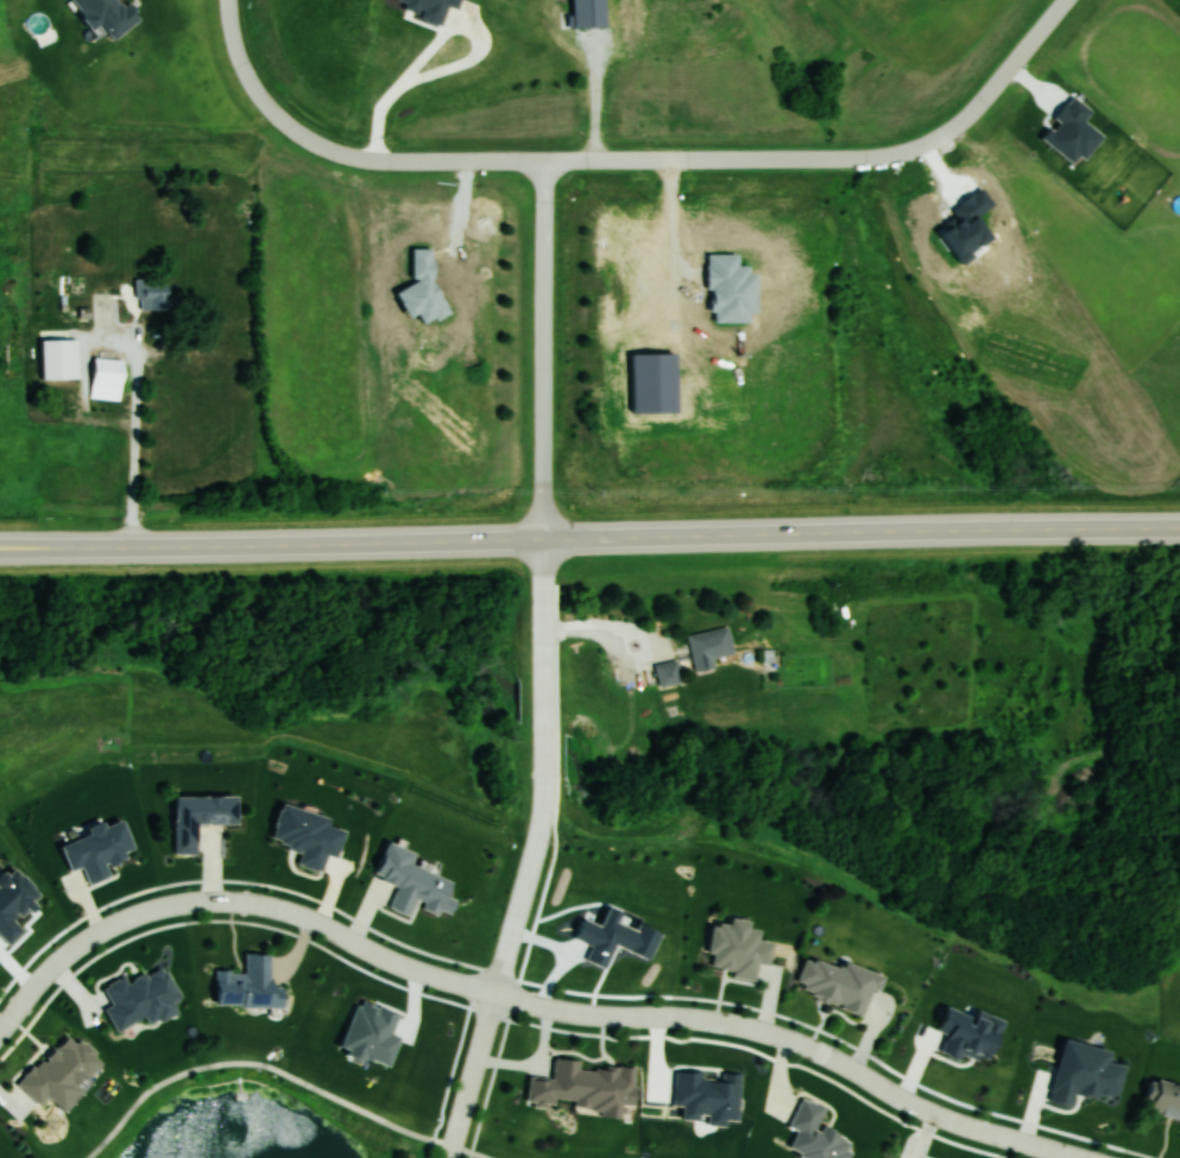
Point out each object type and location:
road: (436, 43)
road: (241, 64)
road: (700, 159)
building: (153, 297)
road: (544, 349)
building: (107, 372)
road: (135, 443)
road: (589, 538)
road: (543, 627)
building: (708, 645)
building: (668, 671)
road: (543, 747)
road: (526, 886)
building: (247, 983)
road: (519, 1000)
road: (260, 1063)
road: (472, 1076)
road: (490, 1077)
building: (583, 1086)
building: (1165, 1099)
road: (890, 1116)
road: (469, 1152)
road: (1137, 1153)

